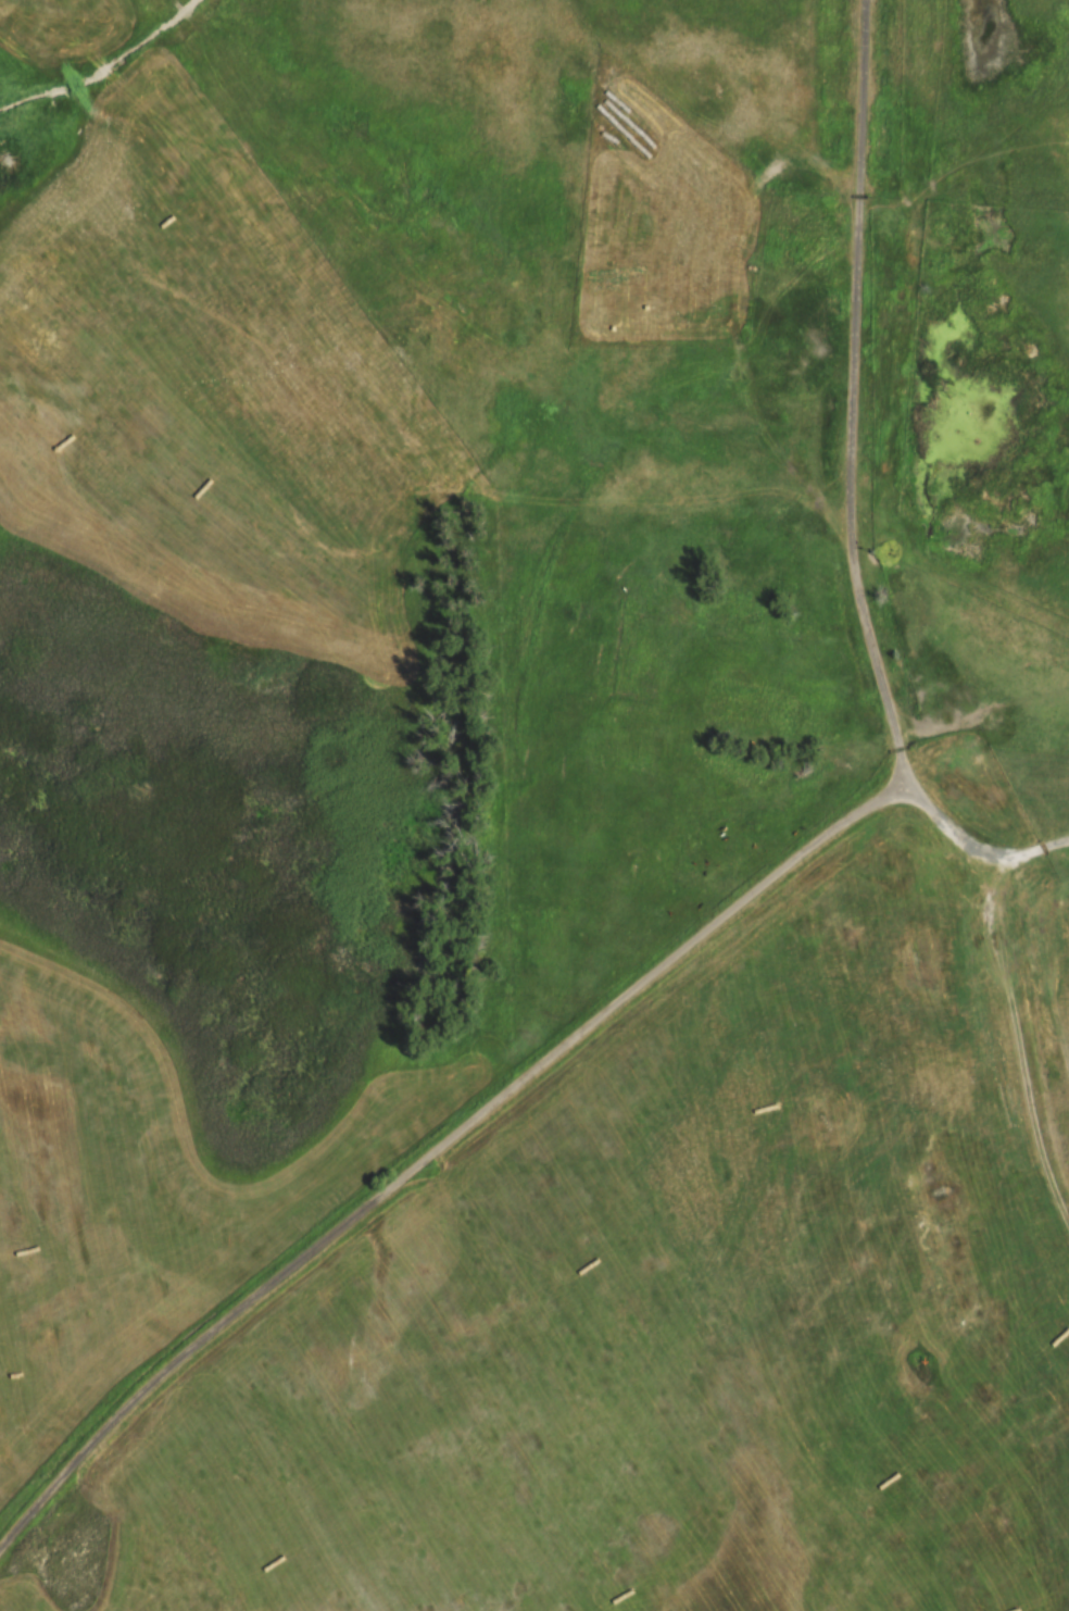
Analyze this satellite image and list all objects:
road: (977, 850)
road: (744, 901)
road: (1035, 1011)
airport runway: (931, 1248)

